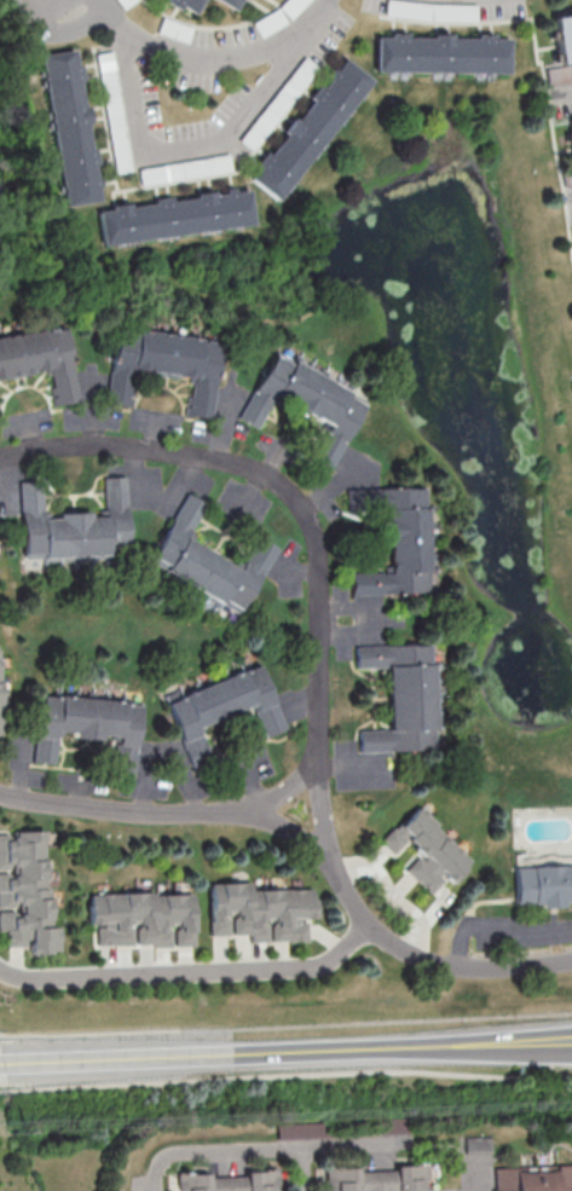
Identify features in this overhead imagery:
building: (233, 4)
building: (190, 5)
building: (174, 30)
building: (566, 37)
building: (445, 54)
road: (215, 60)
building: (71, 128)
building: (312, 129)
road: (195, 140)
building: (177, 218)
building: (41, 360)
building: (167, 366)
building: (310, 404)
building: (76, 526)
road: (307, 527)
building: (399, 542)
building: (209, 561)
building: (404, 699)
building: (1, 703)
building: (226, 707)
building: (91, 728)
road: (283, 792)
road: (117, 805)
road: (290, 832)
building: (429, 851)
building: (544, 883)
building: (28, 891)
building: (264, 913)
building: (148, 919)
road: (502, 931)
road: (432, 960)
road: (192, 973)
road: (285, 1024)
road: (285, 1052)
road: (290, 1074)
road: (5, 1091)
road: (345, 1144)
road: (237, 1152)
building: (380, 1178)
road: (470, 1178)
building: (533, 1178)
building: (232, 1180)

